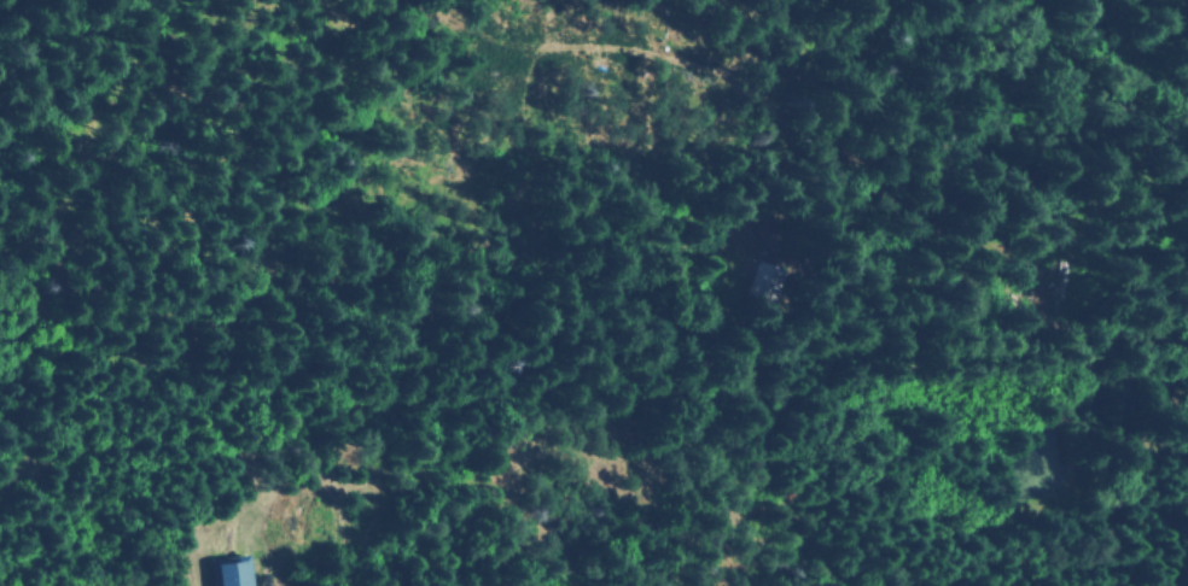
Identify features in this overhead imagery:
road: (984, 25)
road: (42, 463)
building: (226, 572)

